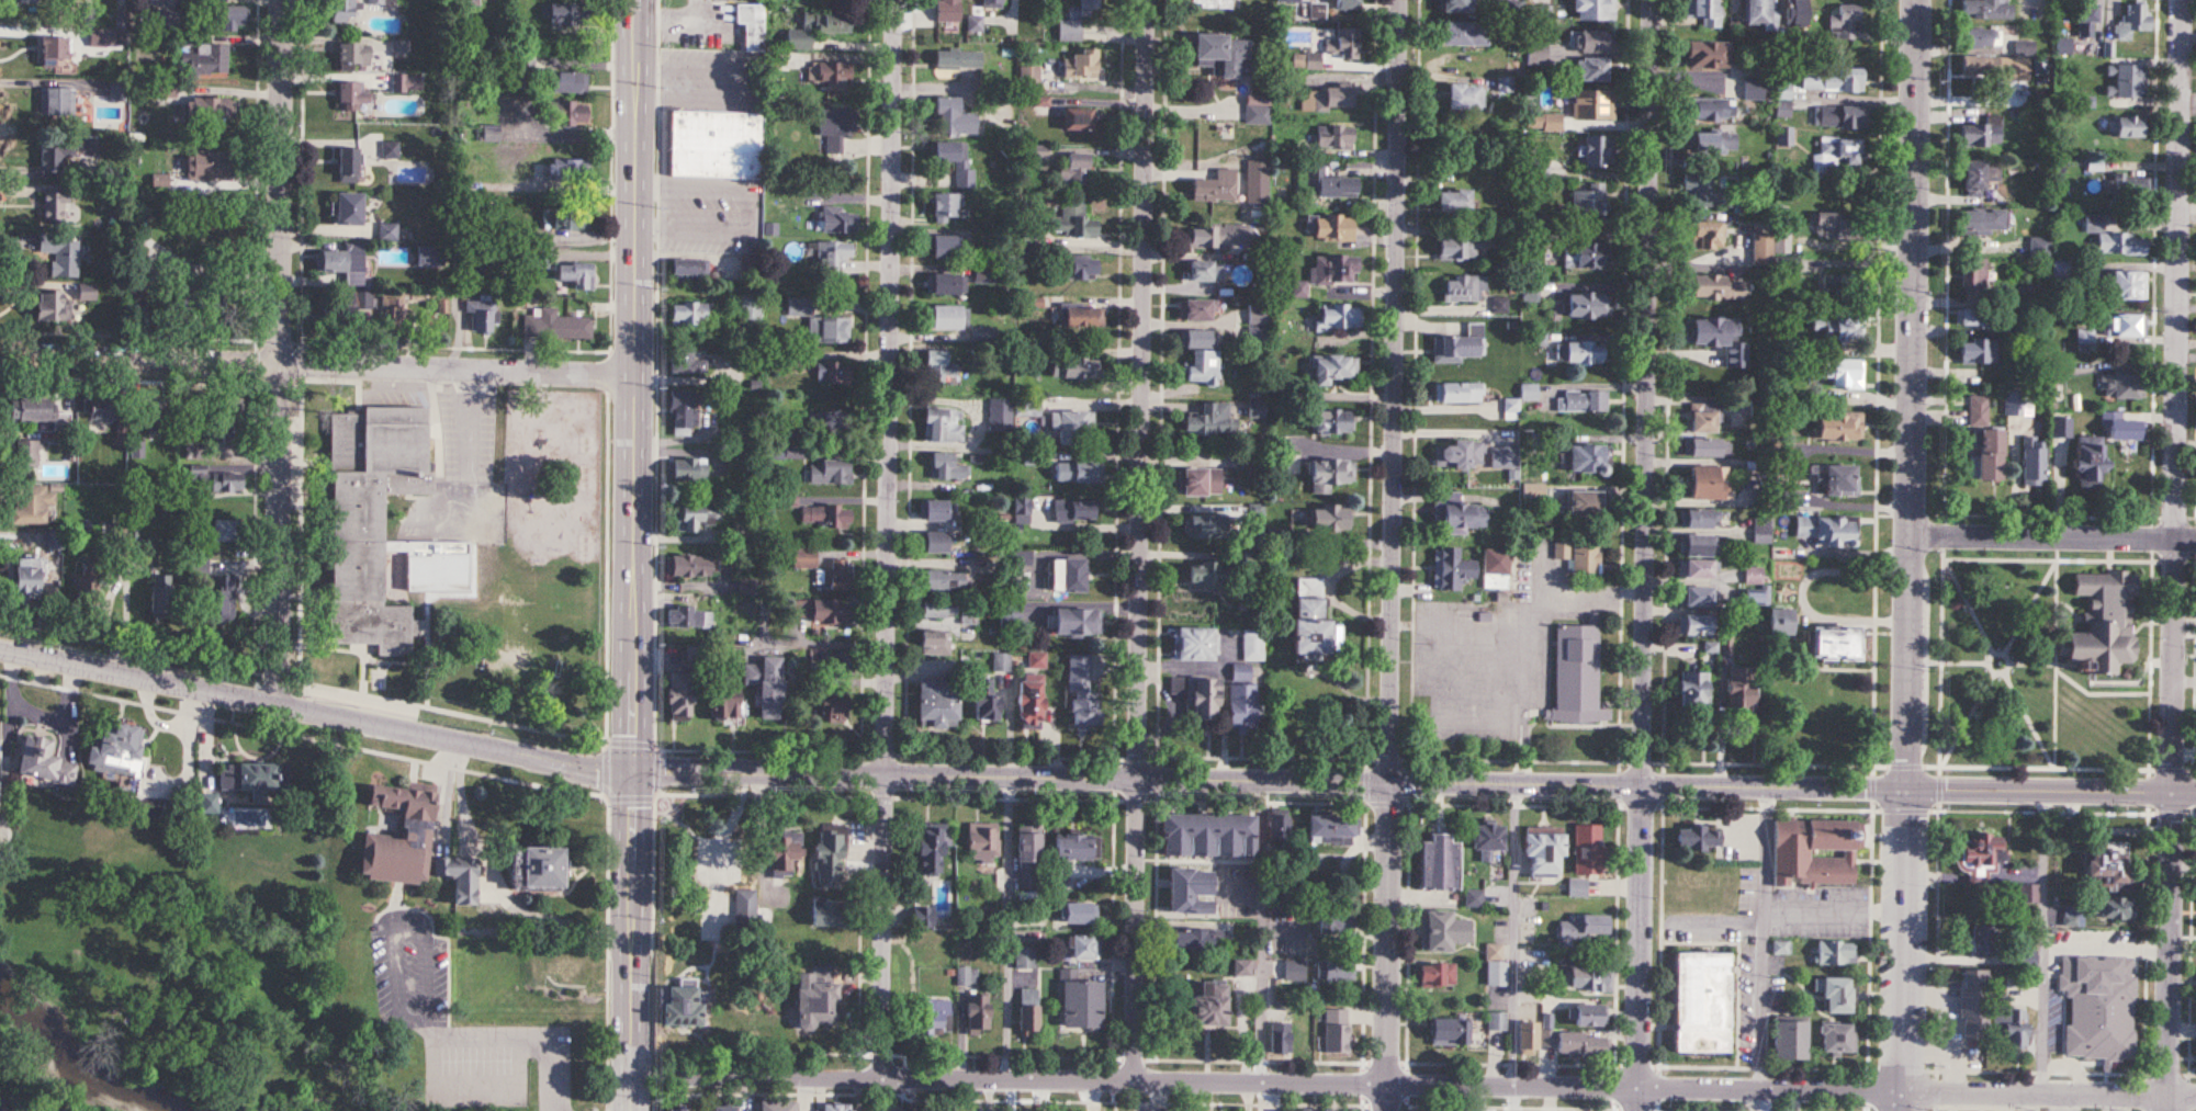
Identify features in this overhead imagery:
building: (26, 1)
building: (1286, 1)
building: (381, 2)
building: (988, 3)
building: (1212, 3)
building: (1347, 3)
building: (1455, 4)
building: (1089, 8)
building: (1593, 9)
building: (1985, 9)
building: (344, 10)
building: (948, 11)
building: (1704, 12)
building: (158, 13)
building: (568, 13)
building: (1760, 14)
building: (1795, 14)
building: (223, 16)
building: (2087, 21)
building: (2132, 21)
building: (1845, 22)
building: (976, 24)
building: (815, 27)
building: (688, 31)
building: (1069, 31)
building: (1459, 33)
building: (1980, 37)
building: (1595, 41)
building: (1341, 43)
building: (2064, 45)
building: (53, 47)
building: (2025, 47)
building: (399, 48)
building: (352, 54)
building: (1219, 54)
building: (1536, 55)
building: (1708, 55)
building: (204, 58)
building: (958, 59)
building: (1306, 60)
building: (1082, 66)
building: (1987, 67)
building: (523, 68)
building: (1590, 69)
building: (829, 73)
building: (1029, 79)
building: (2130, 80)
building: (407, 82)
building: (566, 82)
building: (1832, 82)
building: (117, 90)
building: (1753, 90)
building: (351, 92)
building: (1782, 92)
building: (1464, 97)
building: (1328, 98)
building: (56, 101)
building: (1591, 105)
building: (207, 107)
building: (1711, 109)
building: (1782, 112)
building: (568, 113)
building: (1837, 116)
building: (951, 117)
building: (1078, 120)
building: (2129, 127)
building: (835, 128)
building: (1981, 133)
building: (1333, 136)
building: (1713, 141)
building: (713, 145)
building: (1595, 151)
building: (1840, 151)
building: (53, 157)
building: (347, 161)
building: (205, 163)
building: (961, 165)
building: (1260, 165)
building: (571, 168)
building: (1073, 170)
building: (1973, 178)
building: (1329, 184)
building: (2120, 189)
building: (1213, 190)
building: (1257, 191)
building: (1703, 193)
building: (795, 199)
building: (1453, 201)
building: (1588, 205)
building: (945, 206)
building: (54, 208)
building: (348, 208)
road: (743, 212)
building: (566, 218)
building: (837, 220)
building: (1977, 220)
building: (1069, 222)
building: (1836, 225)
building: (1330, 227)
building: (1705, 236)
building: (1212, 237)
building: (2114, 238)
building: (944, 246)
building: (1460, 247)
building: (2039, 248)
building: (1761, 249)
building: (538, 251)
building: (59, 254)
building: (831, 254)
building: (1581, 256)
building: (342, 262)
building: (1077, 267)
building: (2061, 268)
building: (688, 270)
building: (1204, 272)
building: (1973, 272)
building: (1326, 273)
building: (575, 275)
building: (983, 276)
building: (943, 283)
building: (2128, 284)
building: (1840, 285)
building: (1465, 287)
building: (1715, 287)
building: (354, 302)
building: (395, 303)
building: (46, 305)
building: (1587, 305)
building: (1195, 310)
building: (691, 314)
building: (1081, 315)
building: (1258, 315)
building: (481, 316)
building: (946, 316)
building: (1337, 316)
building: (1971, 316)
building: (820, 322)
building: (555, 325)
building: (2126, 325)
building: (1839, 330)
building: (2084, 337)
building: (1257, 338)
building: (1718, 338)
building: (1196, 339)
building: (1460, 345)
building: (1978, 351)
building: (1579, 352)
road: (282, 353)
building: (683, 360)
road: (317, 366)
building: (1202, 366)
building: (938, 367)
building: (1076, 367)
building: (1335, 369)
building: (832, 372)
building: (1840, 373)
building: (2122, 385)
building: (1457, 393)
building: (1585, 400)
building: (2018, 403)
building: (1029, 407)
building: (102, 408)
building: (30, 409)
building: (1978, 410)
building: (683, 411)
building: (154, 413)
building: (229, 413)
building: (1701, 417)
building: (824, 420)
building: (1207, 420)
building: (1332, 422)
building: (1072, 423)
building: (944, 424)
building: (1837, 427)
building: (2125, 428)
building: (1709, 447)
building: (137, 449)
building: (23, 452)
building: (201, 453)
building: (1457, 454)
building: (1989, 454)
building: (1502, 457)
building: (2088, 457)
building: (1585, 458)
building: (2031, 461)
building: (947, 467)
building: (687, 472)
building: (830, 472)
building: (1076, 472)
building: (1329, 475)
building: (213, 479)
building: (1839, 479)
building: (1200, 481)
building: (1707, 481)
building: (30, 503)
building: (1584, 503)
building: (935, 510)
building: (1072, 510)
building: (1459, 512)
building: (698, 515)
building: (824, 515)
building: (1698, 518)
building: (1328, 519)
building: (369, 523)
building: (1197, 526)
building: (1825, 530)
building: (221, 531)
road: (891, 537)
road: (2051, 537)
road: (1141, 539)
building: (934, 543)
building: (1698, 545)
road: (632, 555)
road: (1388, 555)
building: (1578, 555)
road: (1640, 555)
road: (1905, 555)
road: (2174, 555)
building: (803, 557)
building: (420, 562)
building: (688, 566)
building: (1494, 569)
building: (1694, 569)
building: (1444, 570)
building: (837, 575)
building: (1202, 575)
building: (1067, 576)
building: (1753, 576)
building: (23, 578)
building: (946, 580)
building: (85, 586)
building: (158, 594)
building: (1693, 597)
building: (219, 598)
building: (1756, 598)
building: (935, 610)
building: (817, 611)
building: (1009, 614)
building: (688, 617)
building: (1308, 619)
building: (1074, 622)
building: (1779, 622)
building: (2103, 623)
building: (1693, 625)
road: (1528, 642)
building: (934, 643)
building: (1833, 643)
park: (1975, 643)
building: (1194, 644)
building: (1252, 645)
building: (1037, 659)
building: (1001, 661)
building: (836, 666)
road: (1190, 668)
building: (1240, 672)
building: (1576, 677)
building: (765, 685)
building: (1738, 691)
building: (1692, 692)
building: (1081, 694)
building: (1196, 696)
building: (679, 698)
building: (983, 700)
building: (1028, 701)
building: (936, 704)
building: (722, 705)
building: (1241, 705)
building: (832, 708)
building: (115, 752)
building: (41, 762)
building: (245, 776)
road: (946, 779)
road: (2049, 789)
building: (204, 803)
road: (460, 810)
building: (1333, 828)
building: (1277, 829)
building: (398, 835)
building: (1206, 835)
building: (1810, 835)
building: (1487, 837)
building: (1697, 837)
building: (982, 844)
building: (1071, 847)
building: (931, 849)
building: (1587, 849)
building: (780, 850)
building: (1542, 851)
building: (826, 855)
building: (1027, 855)
building: (1979, 858)
building: (1438, 863)
building: (532, 868)
building: (2107, 869)
building: (459, 876)
building: (1186, 888)
building: (2028, 894)
building: (1473, 898)
building: (745, 904)
building: (2115, 908)
building: (827, 912)
building: (1078, 914)
building: (922, 918)
road: (1833, 918)
building: (1339, 919)
road: (396, 926)
building: (1583, 928)
road: (1006, 929)
road: (1259, 930)
building: (1442, 931)
road: (1760, 936)
building: (1983, 939)
building: (1193, 940)
road: (2041, 941)
road: (1495, 945)
building: (1084, 948)
building: (1836, 953)
building: (1025, 957)
building: (1495, 965)
building: (1245, 967)
building: (564, 968)
building: (1336, 971)
building: (1294, 974)
building: (1590, 974)
building: (1437, 975)
building: (1836, 996)
building: (815, 999)
building: (1079, 1001)
building: (1281, 1001)
building: (1701, 1002)
building: (1207, 1005)
building: (1974, 1005)
building: (680, 1007)
building: (2099, 1007)
building: (977, 1014)
building: (933, 1016)
building: (1590, 1016)
building: (1027, 1019)
building: (1497, 1021)
building: (2009, 1025)
building: (1337, 1031)
building: (1547, 1031)
building: (1450, 1032)
road: (521, 1034)
building: (1280, 1039)
building: (1527, 1039)
building: (1838, 1039)
building: (1789, 1041)
building: (1584, 1045)
road: (1268, 1082)
road: (477, 1084)
road: (2051, 1093)
road: (1756, 1100)
road: (2064, 1102)
road: (2115, 1102)
building: (1809, 1103)
building: (774, 1106)
building: (832, 1108)
building: (883, 1108)
building: (722, 1109)
building: (674, 1110)

